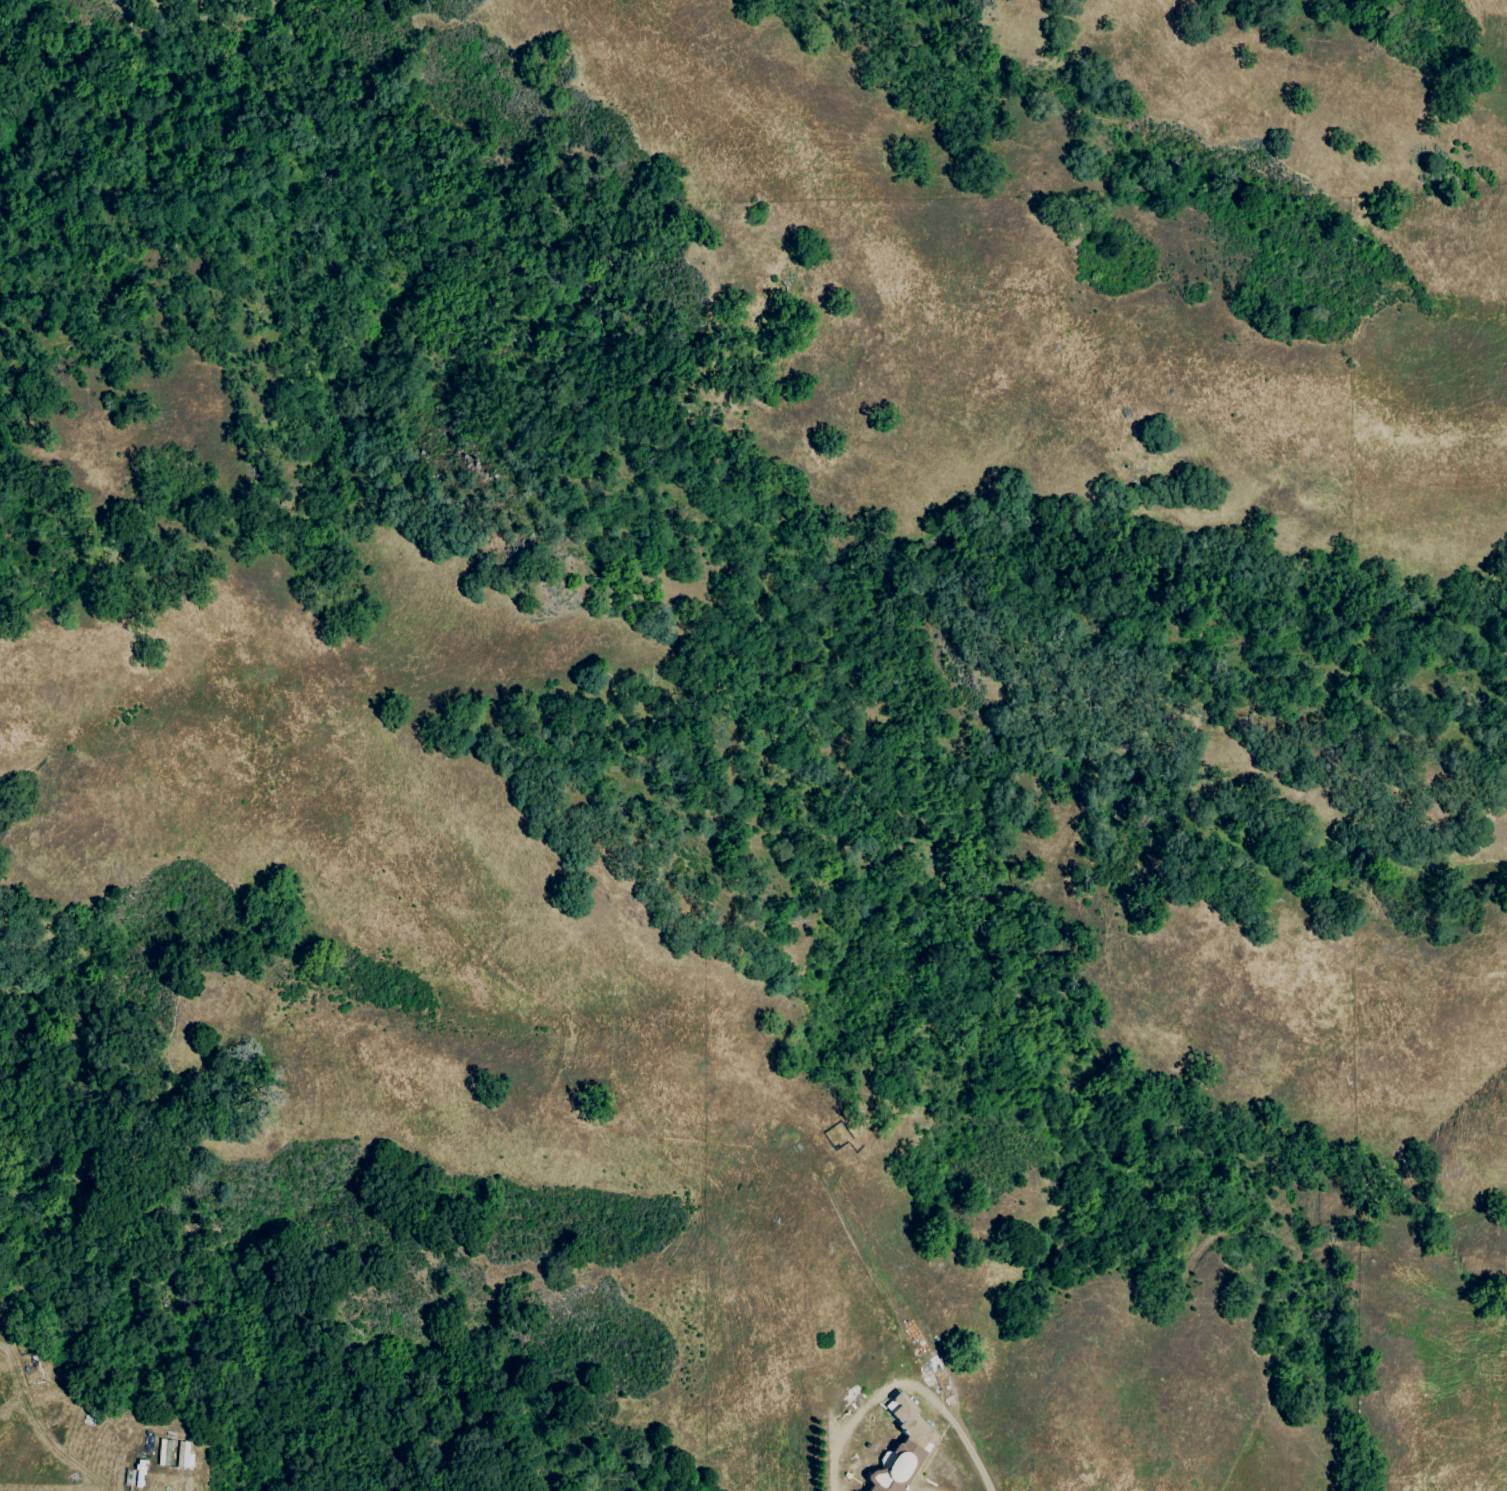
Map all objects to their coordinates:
road: (904, 1382)
building: (909, 1444)
building: (168, 1453)
building: (190, 1453)

